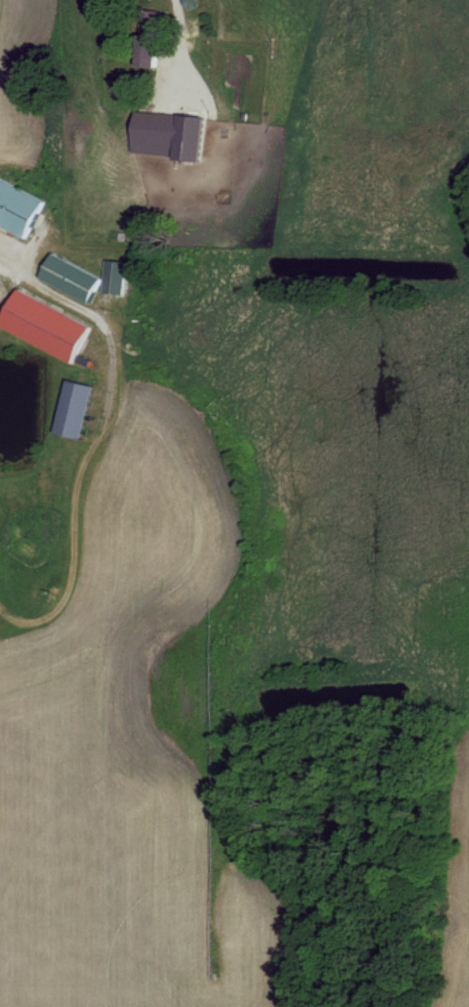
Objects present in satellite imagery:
building: (148, 36)
building: (171, 130)
road: (434, 141)
building: (18, 206)
road: (3, 255)
building: (71, 276)
building: (114, 276)
building: (45, 324)
building: (74, 407)
road: (89, 438)
road: (305, 573)

